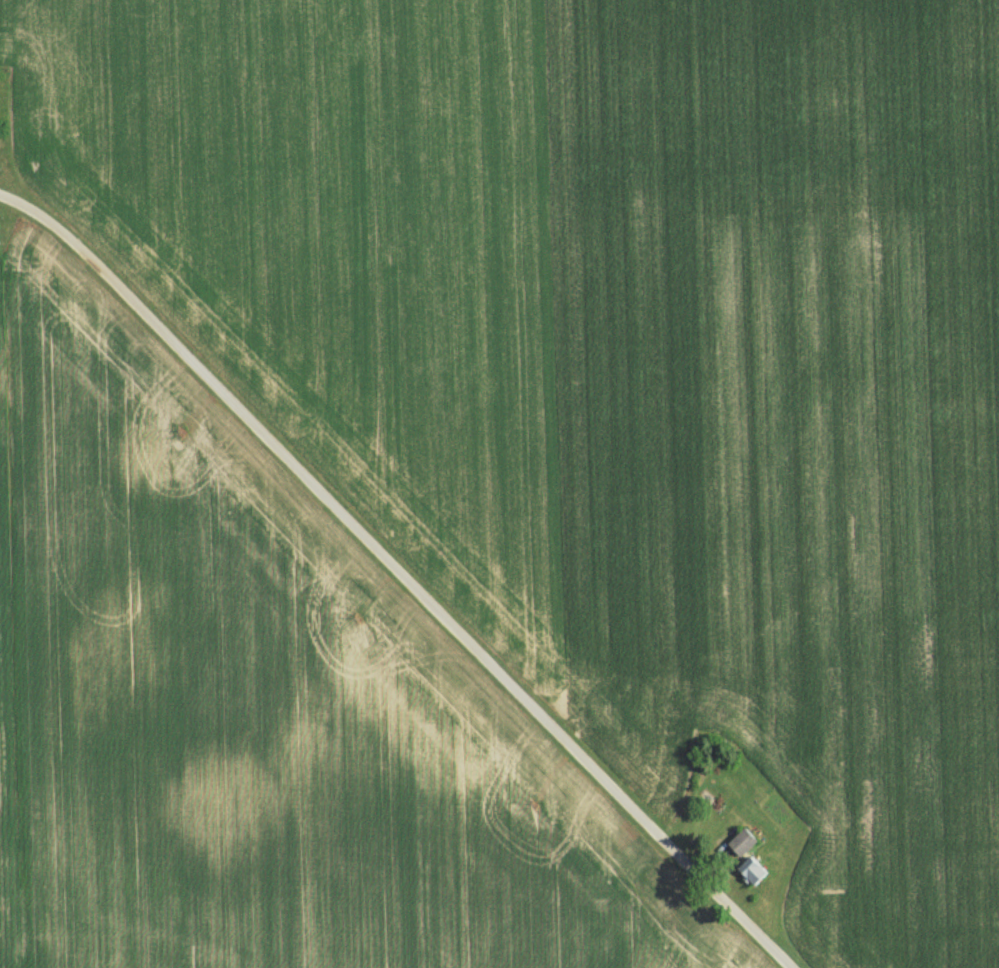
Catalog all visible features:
road: (403, 570)
building: (740, 843)
building: (749, 872)

